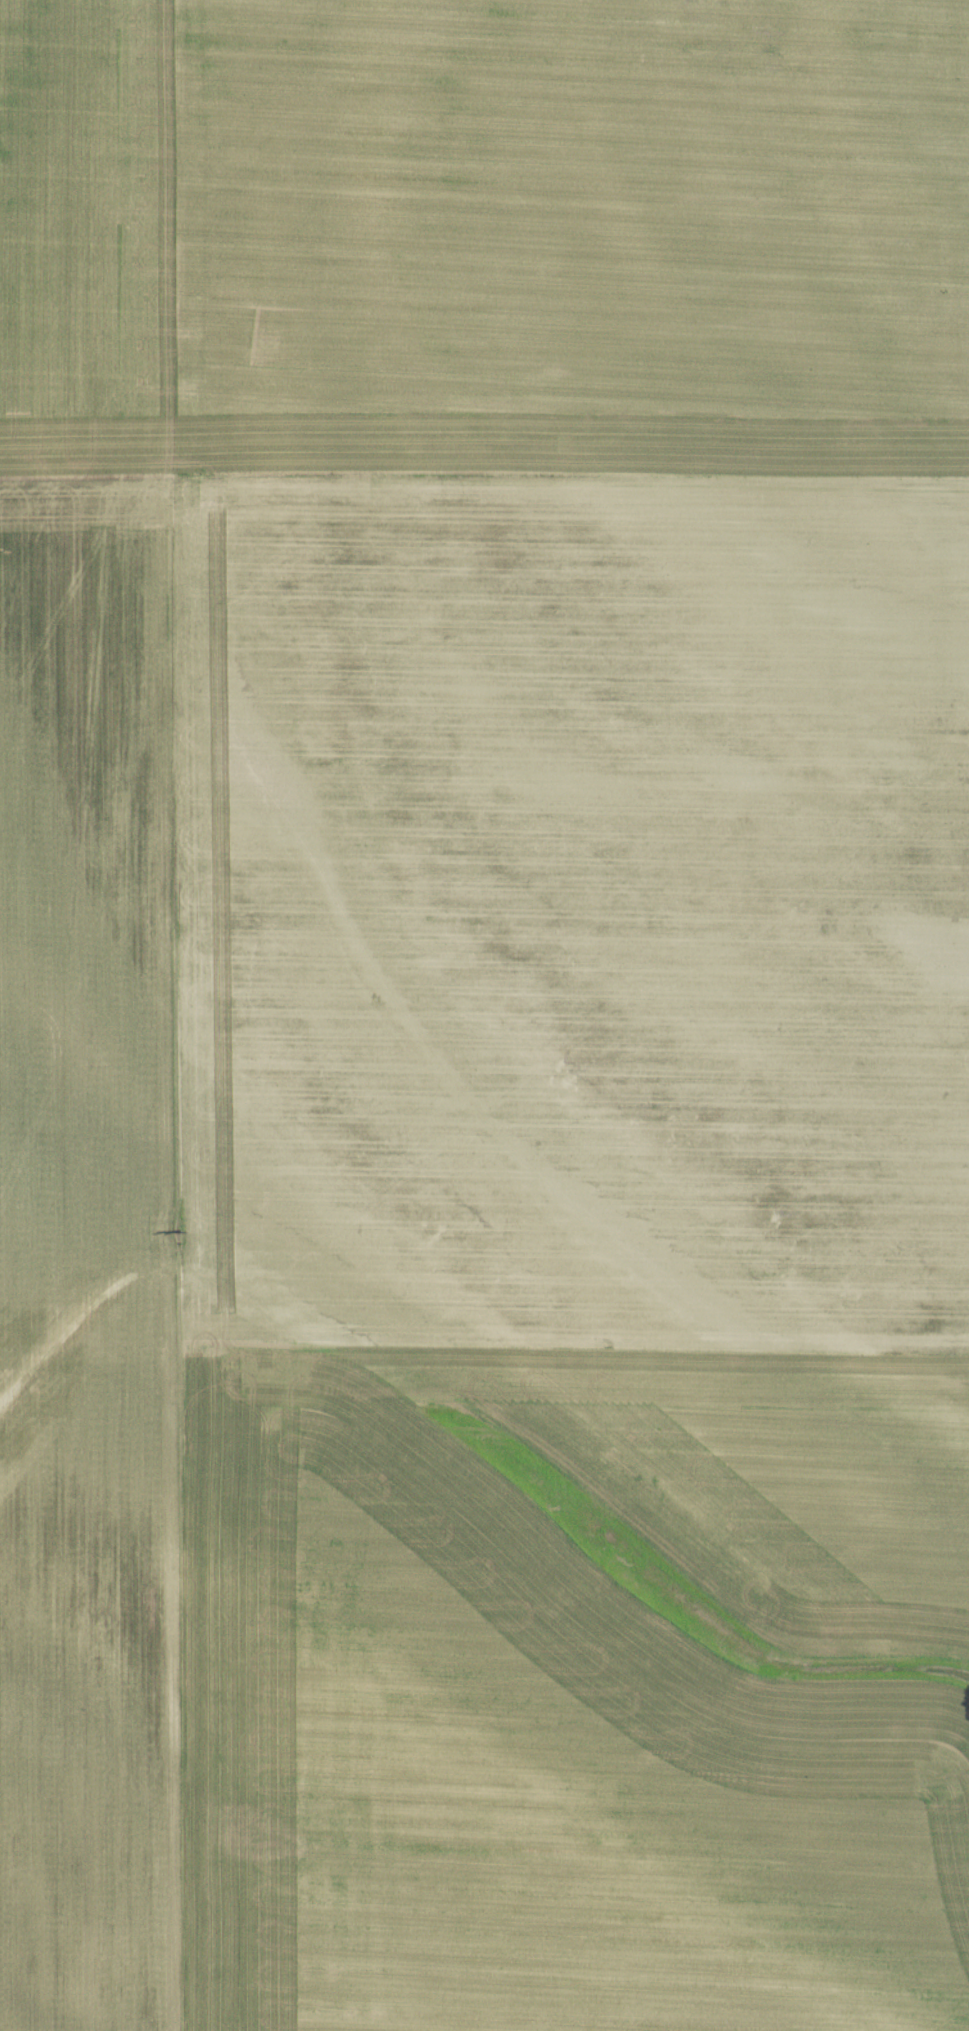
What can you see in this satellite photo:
road: (63, 479)

